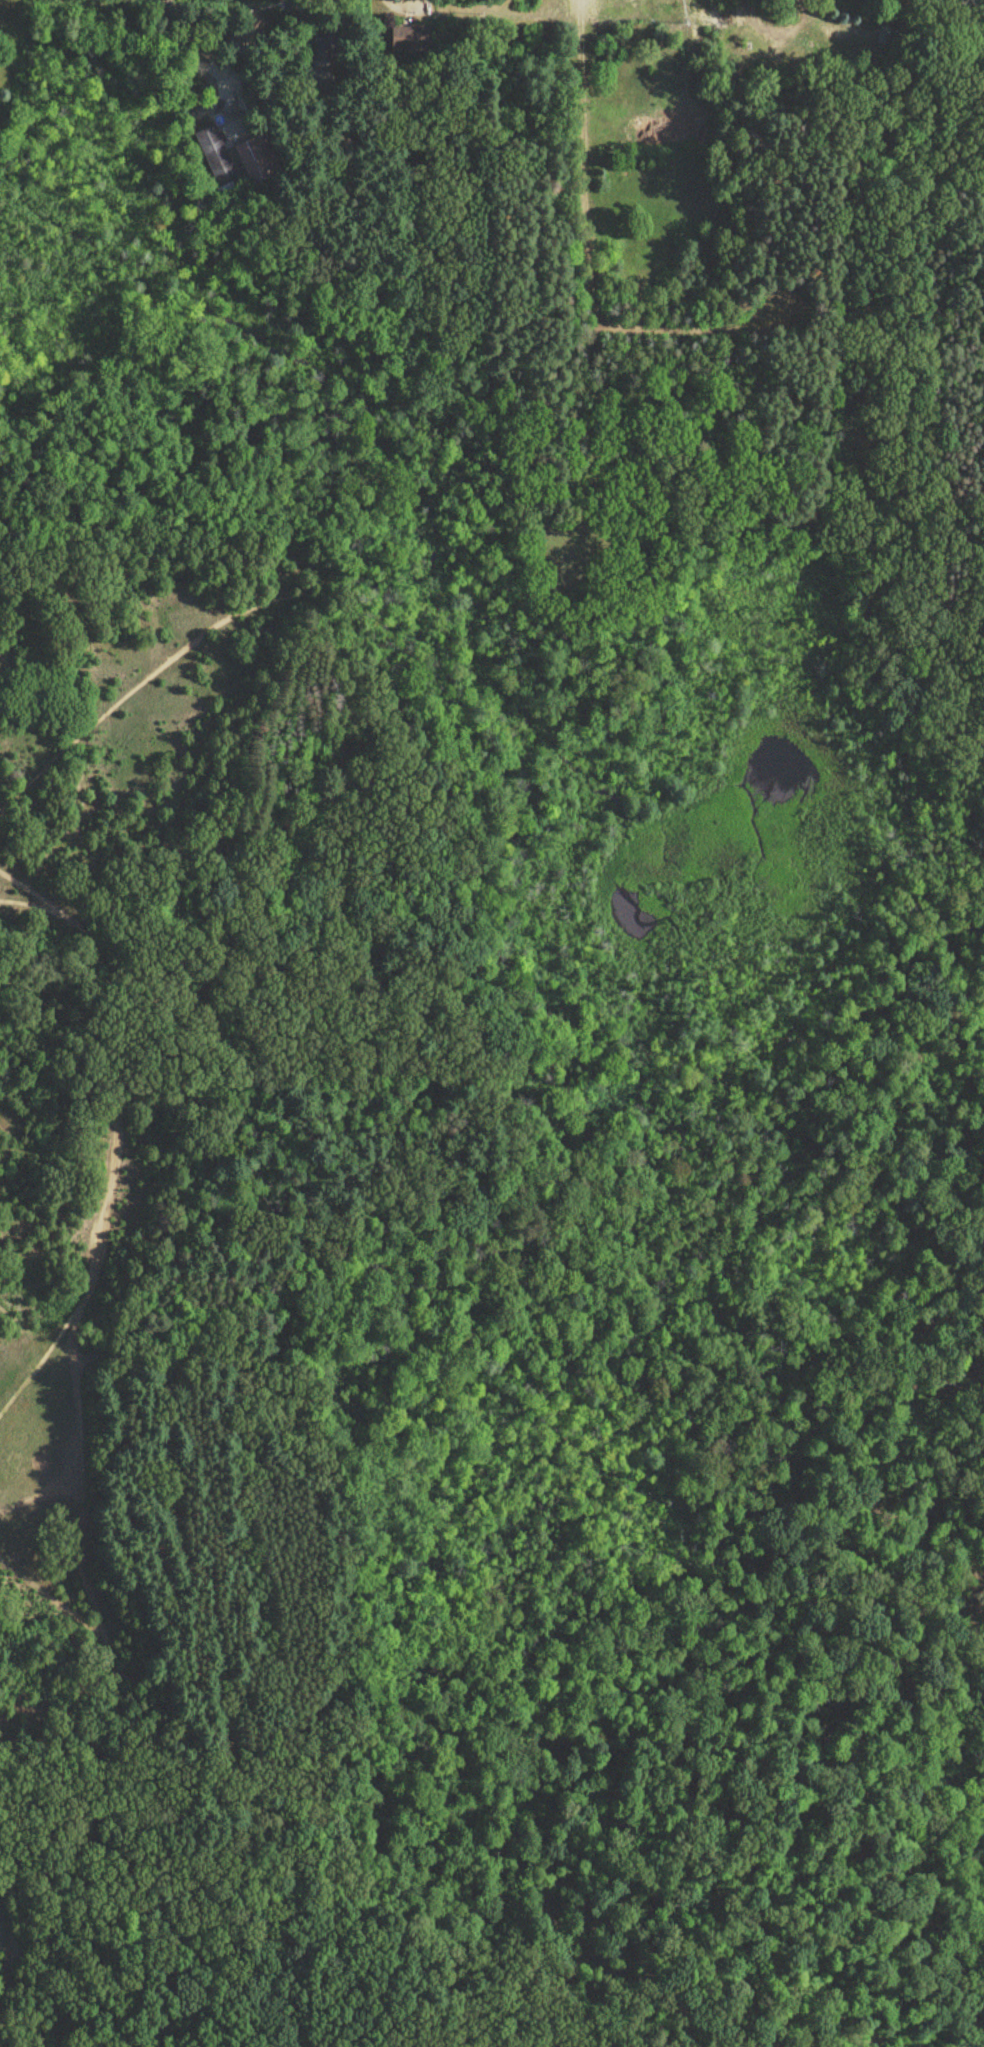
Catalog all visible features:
building: (409, 44)
road: (205, 58)
building: (210, 144)
building: (248, 165)

